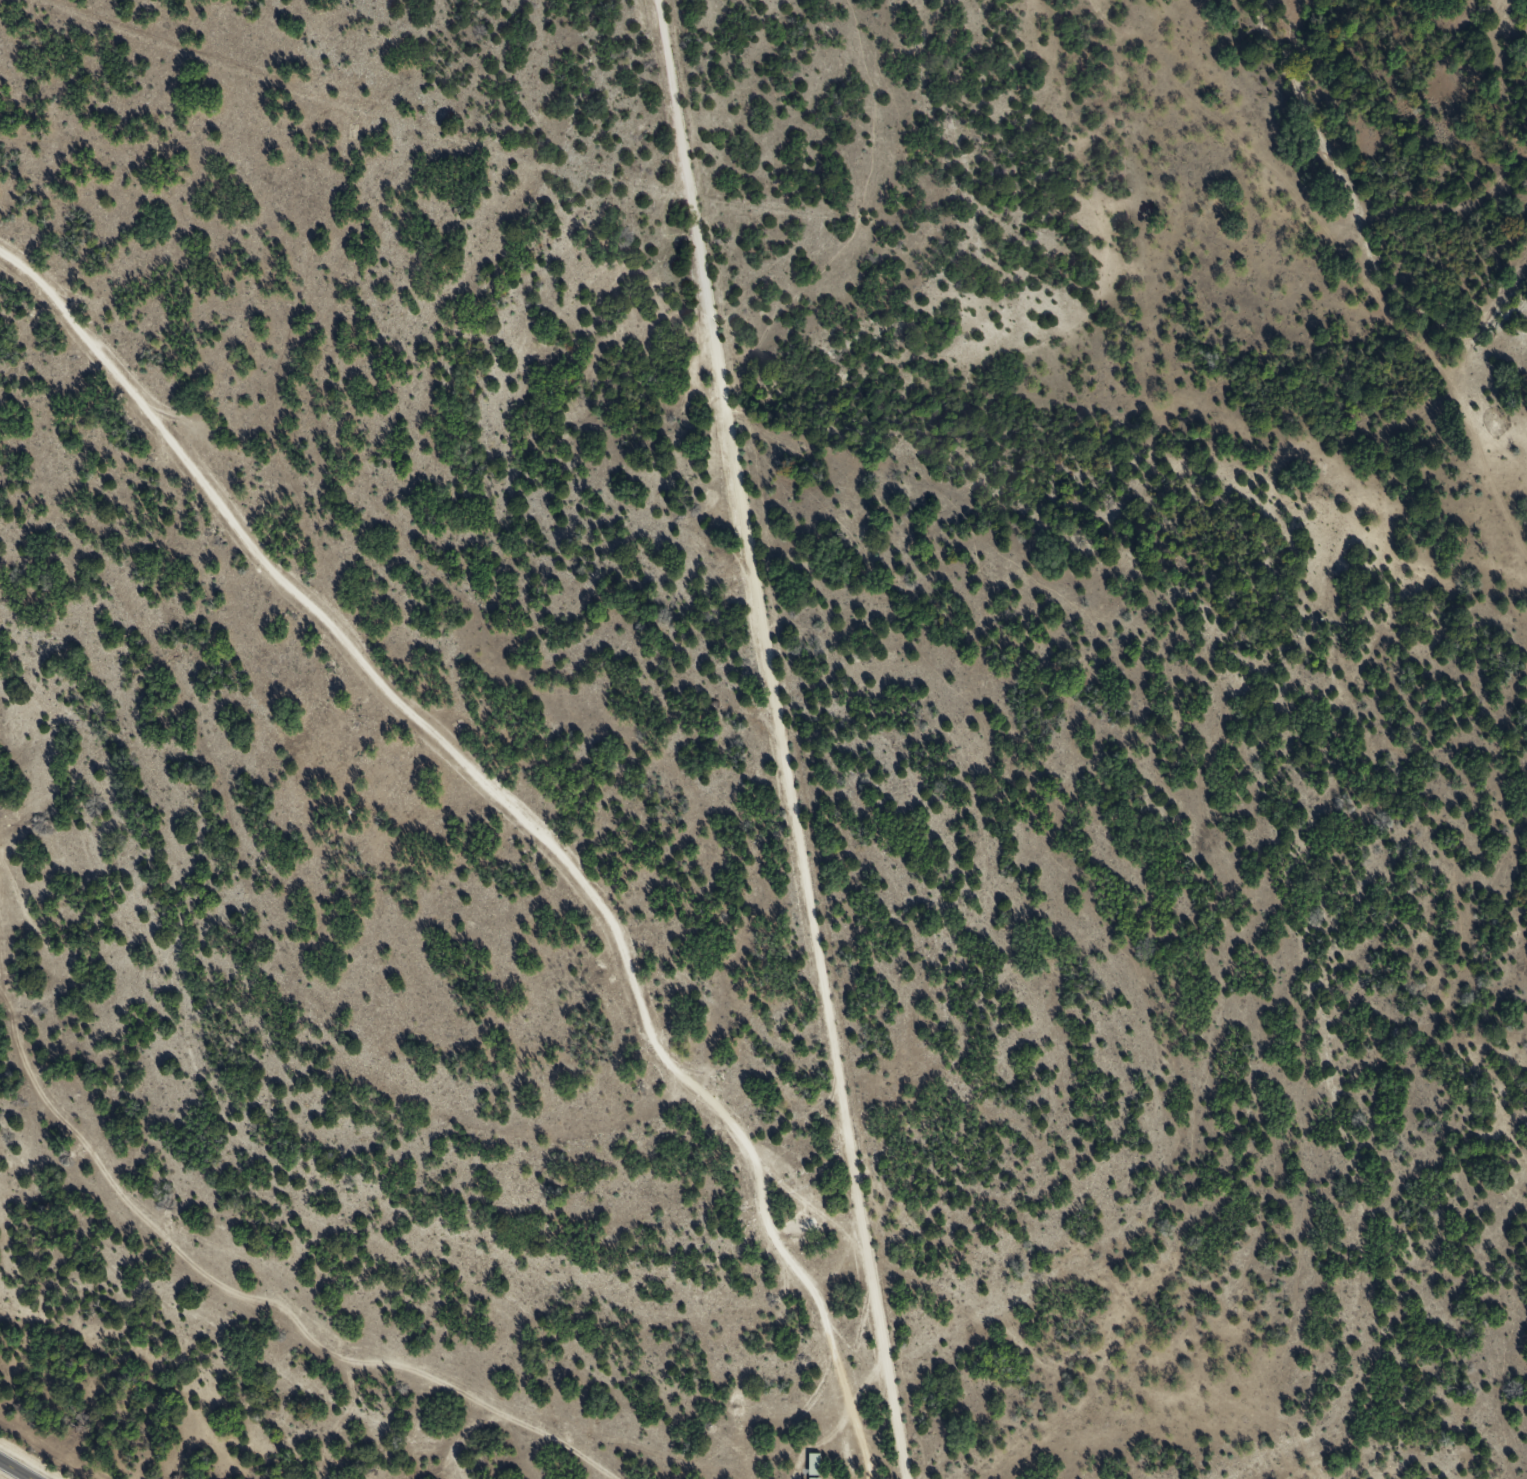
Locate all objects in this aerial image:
road: (1440, 219)
road: (1340, 264)
road: (643, 960)
road: (868, 1390)
building: (813, 1464)
road: (14, 1470)
building: (812, 1478)

